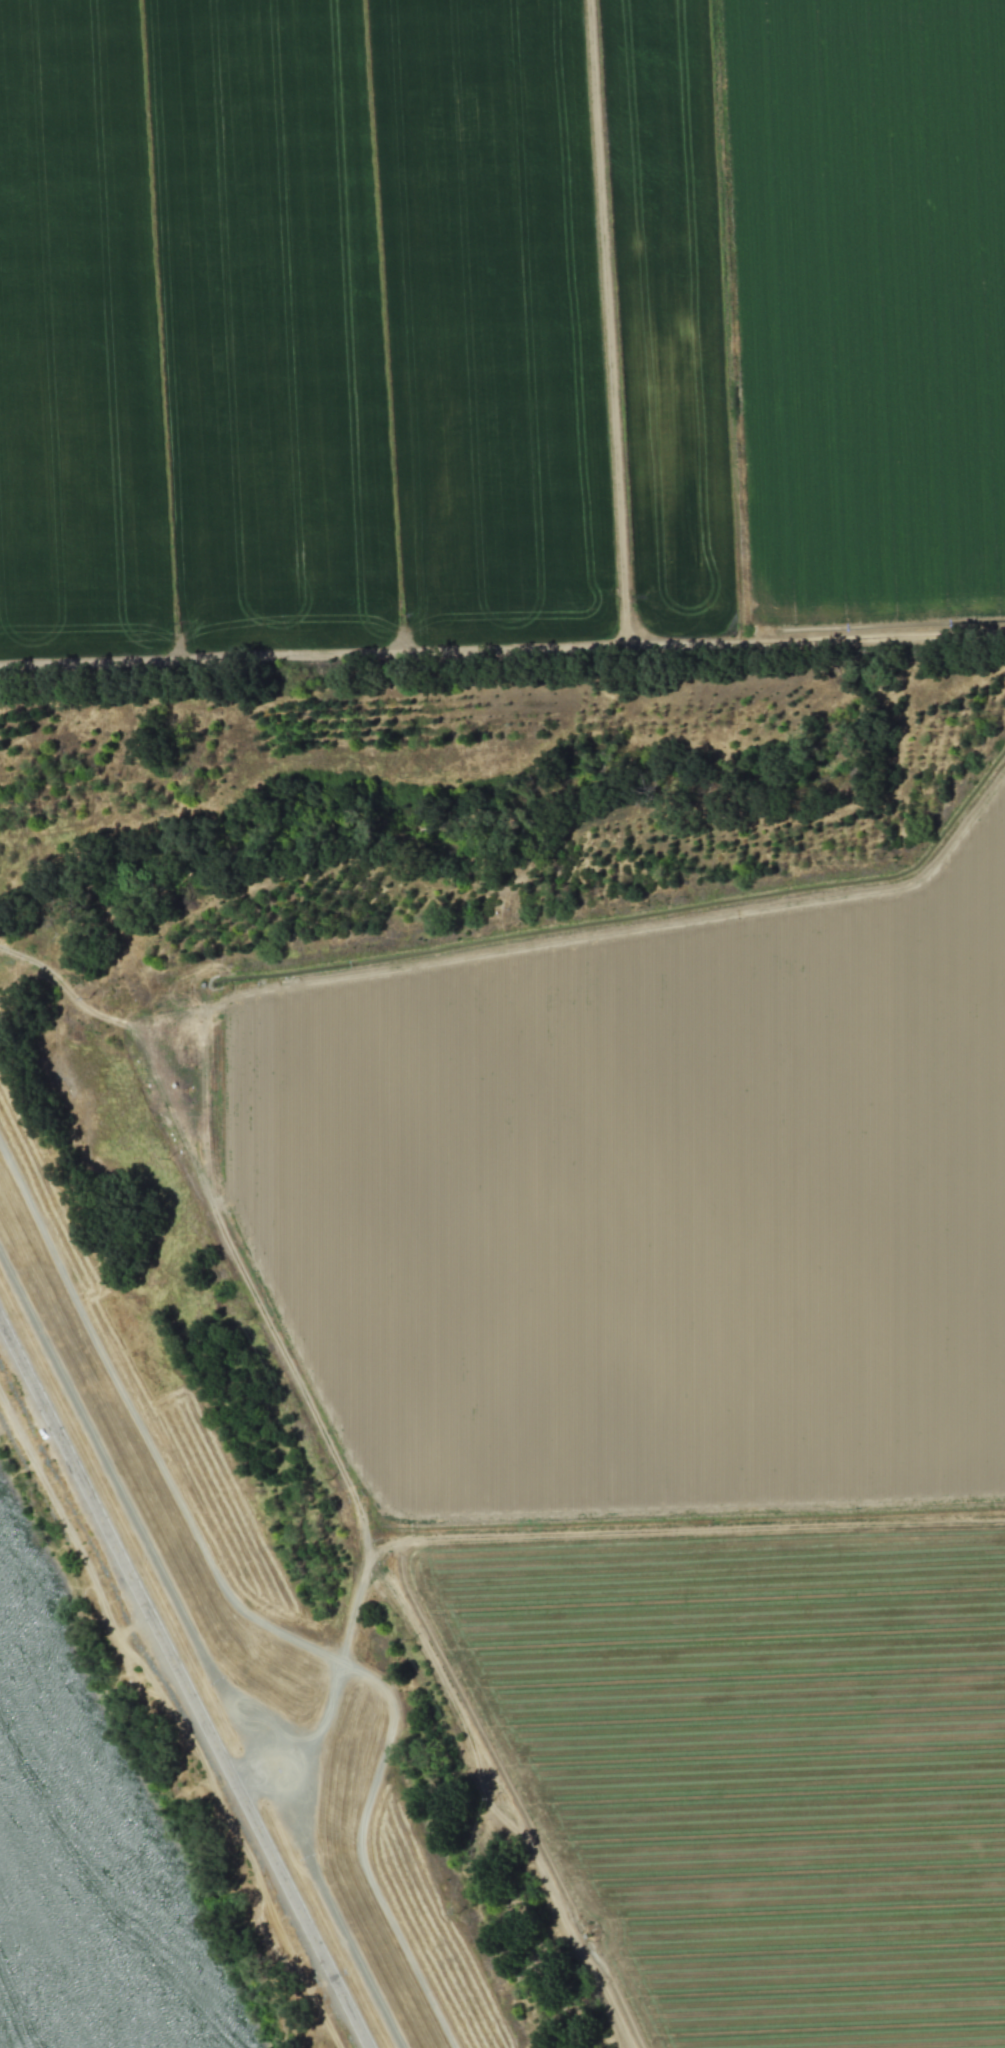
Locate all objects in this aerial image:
road: (184, 1703)
river: (47, 1937)

